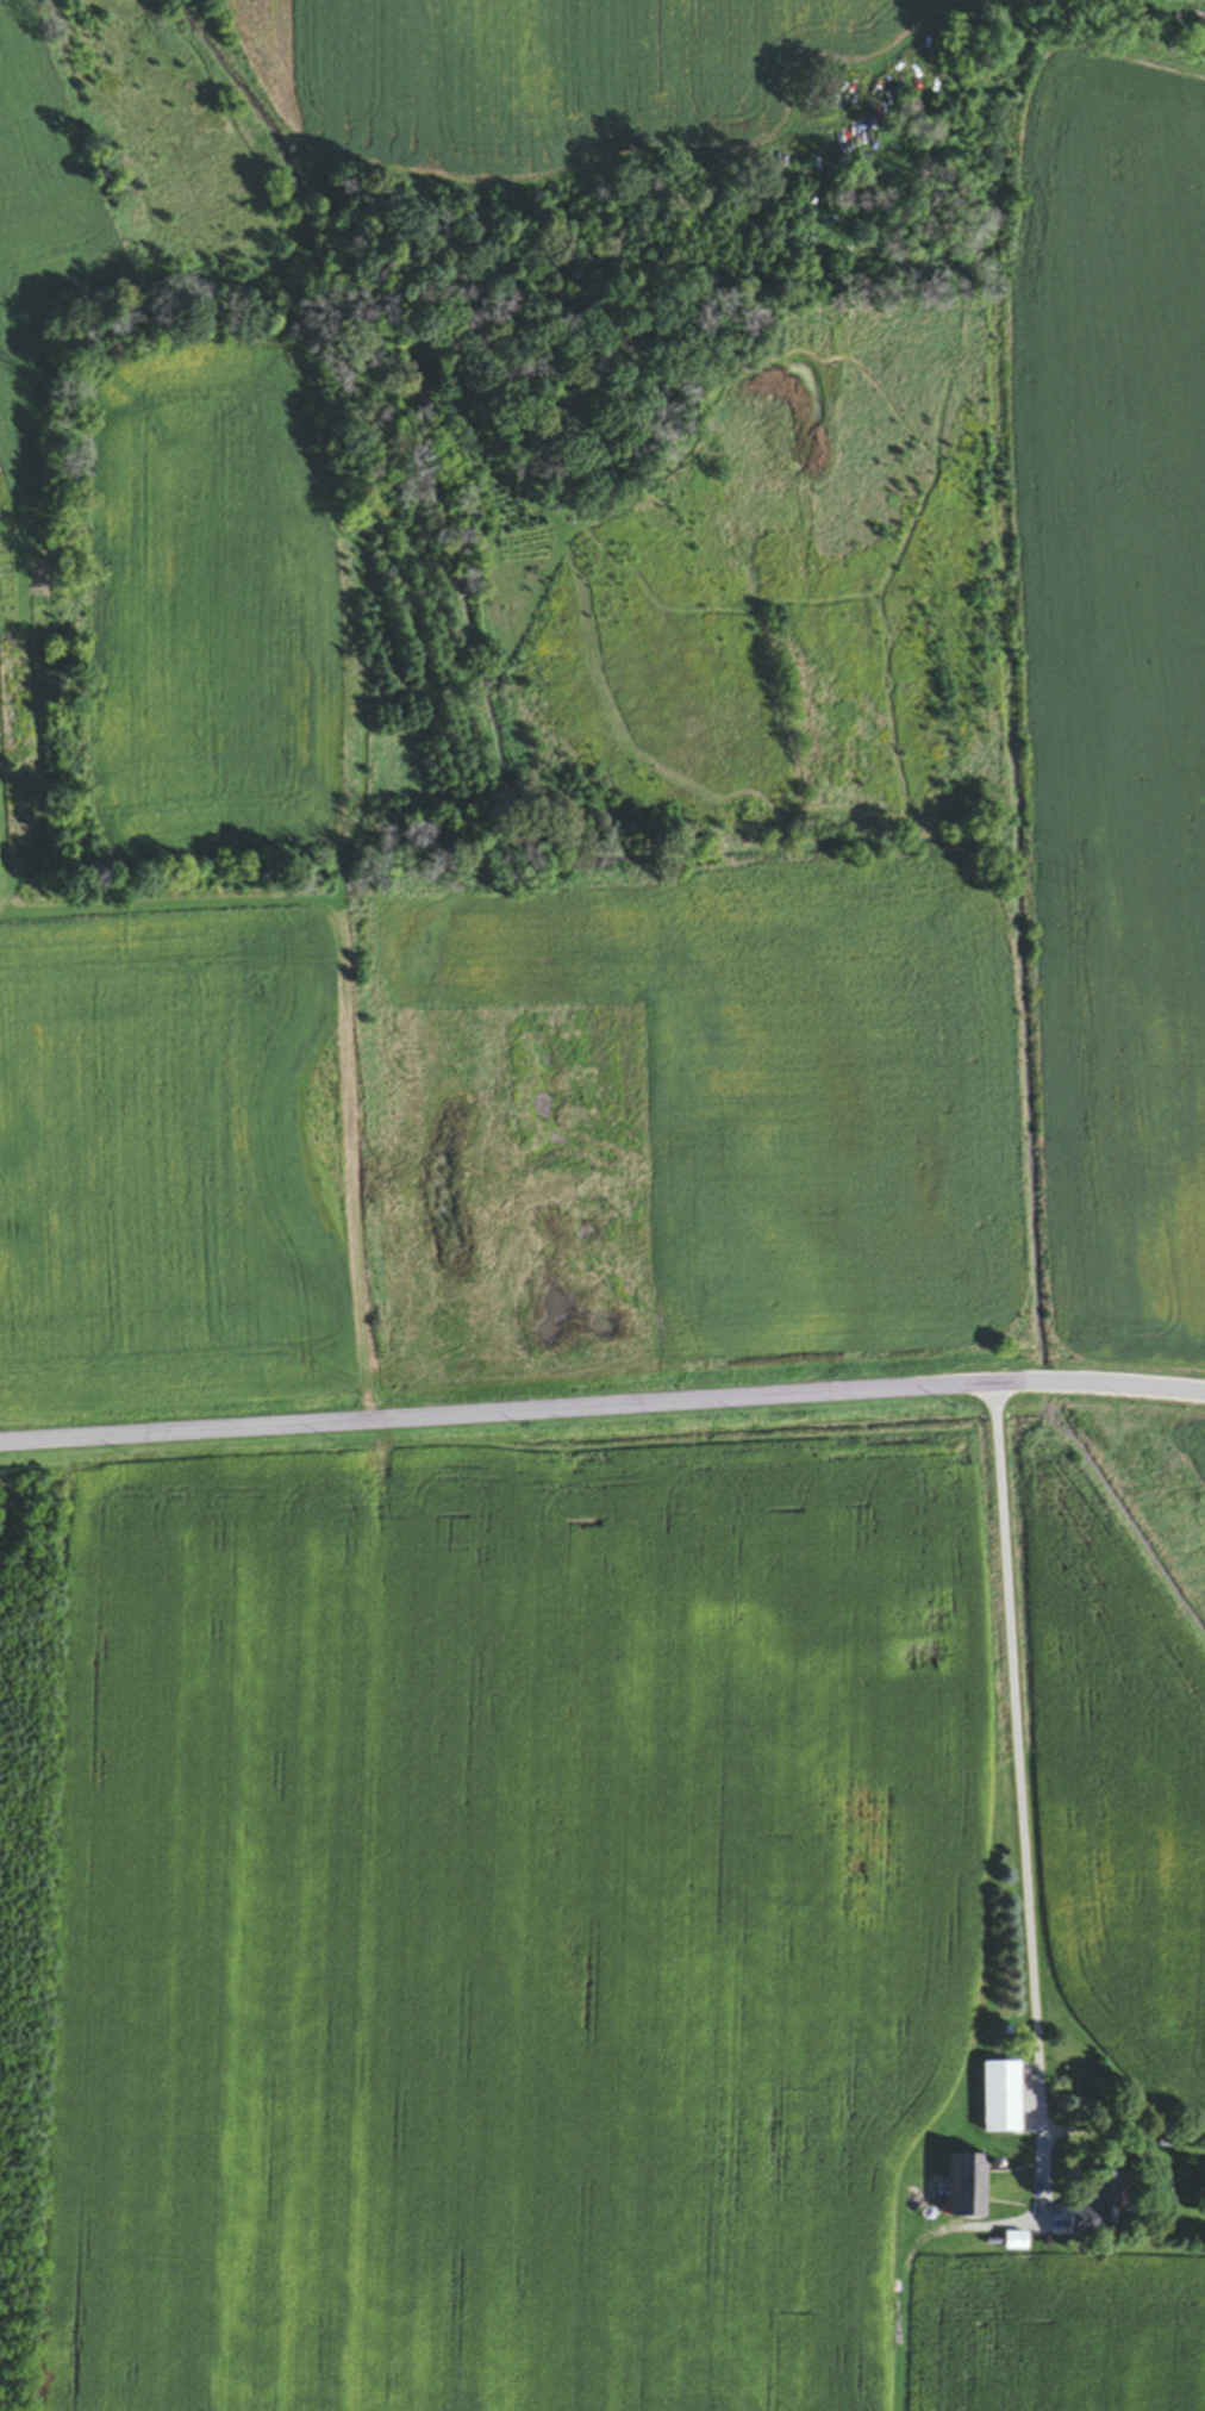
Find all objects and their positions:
road: (602, 1402)
road: (1014, 1798)
building: (1001, 2100)
building: (1176, 2154)
building: (967, 2188)
building: (1111, 2193)
building: (1069, 2228)

